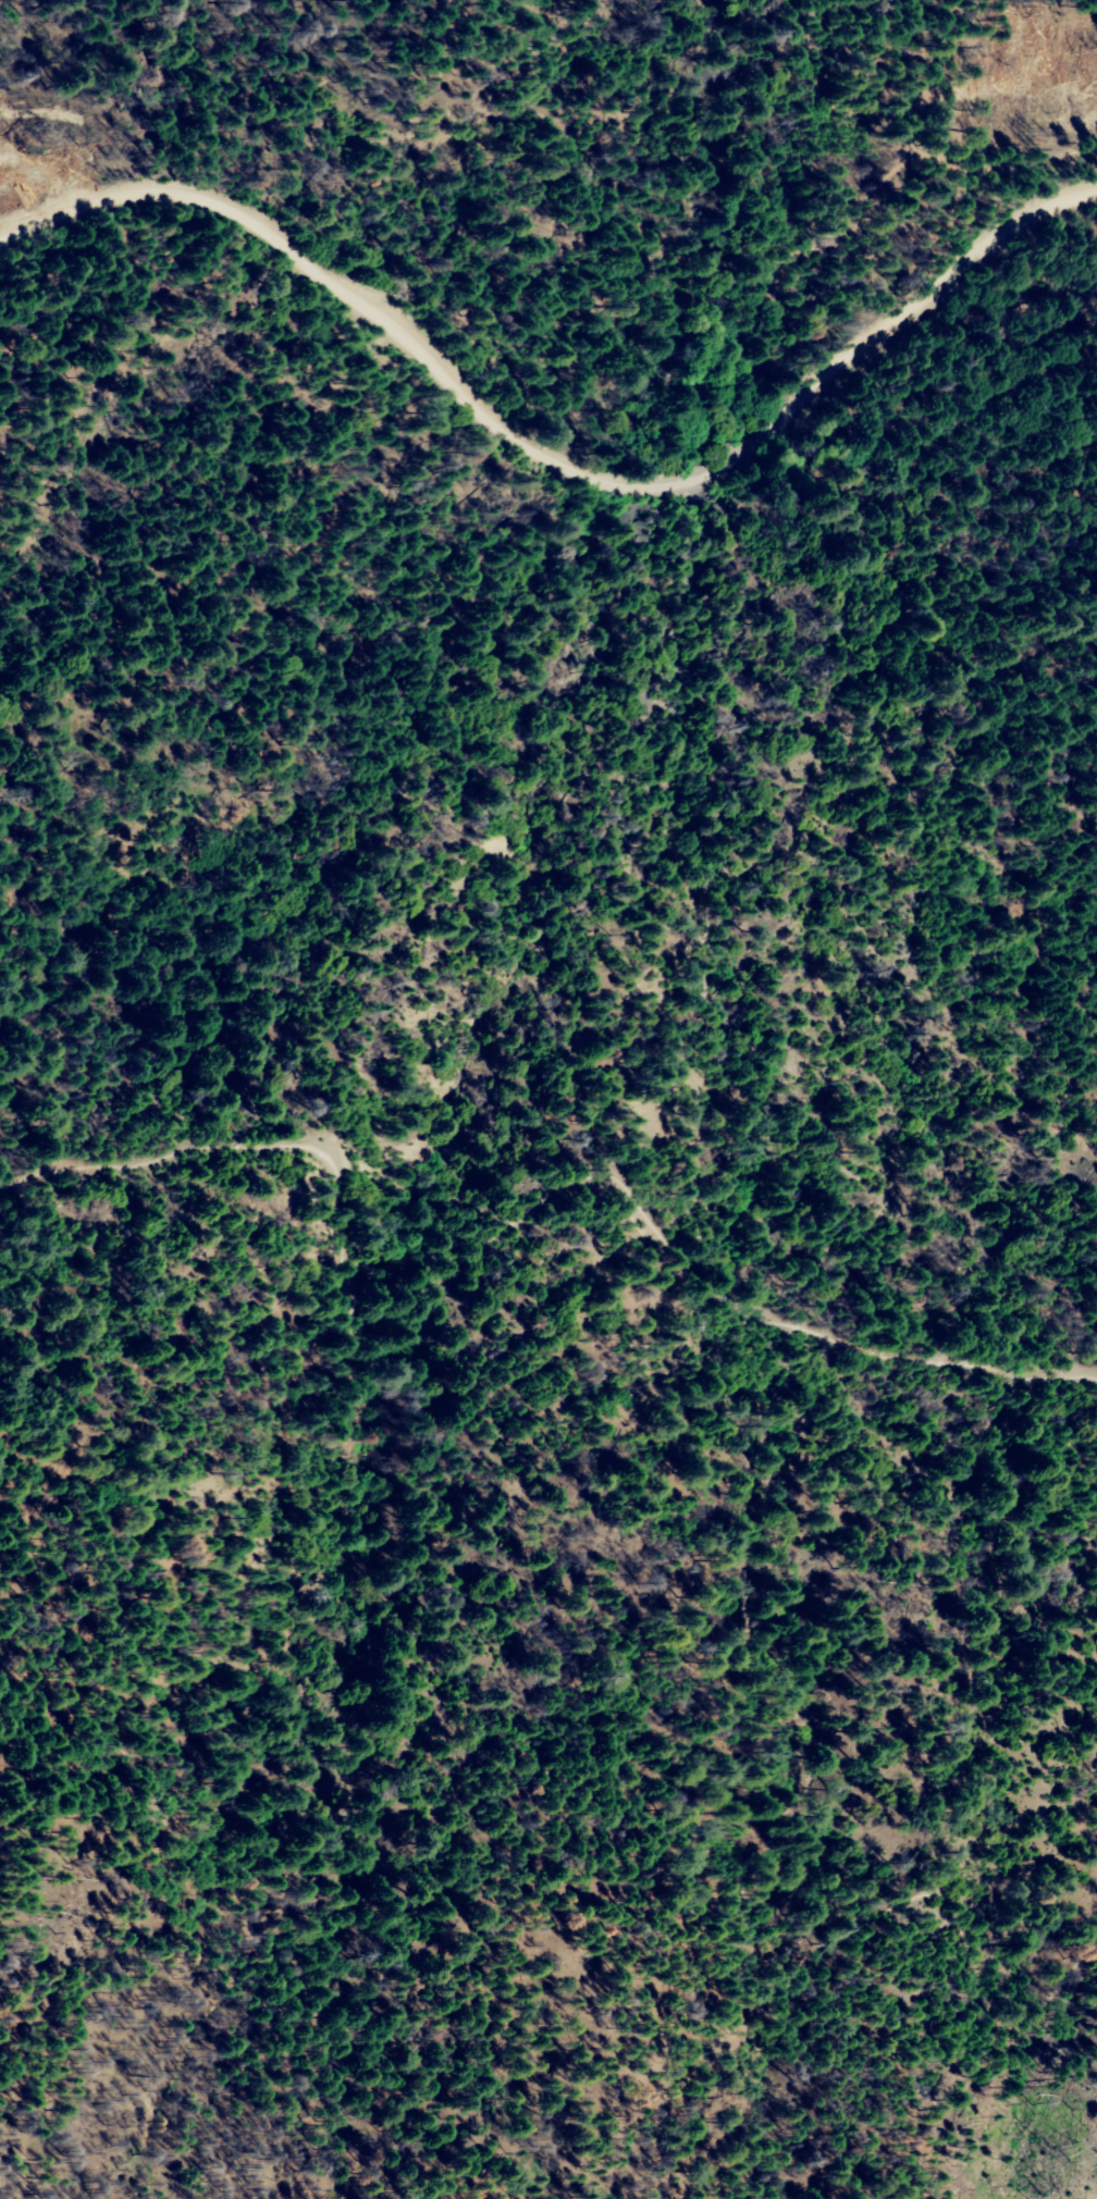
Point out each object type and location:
road: (952, 284)
road: (419, 354)
road: (729, 367)

